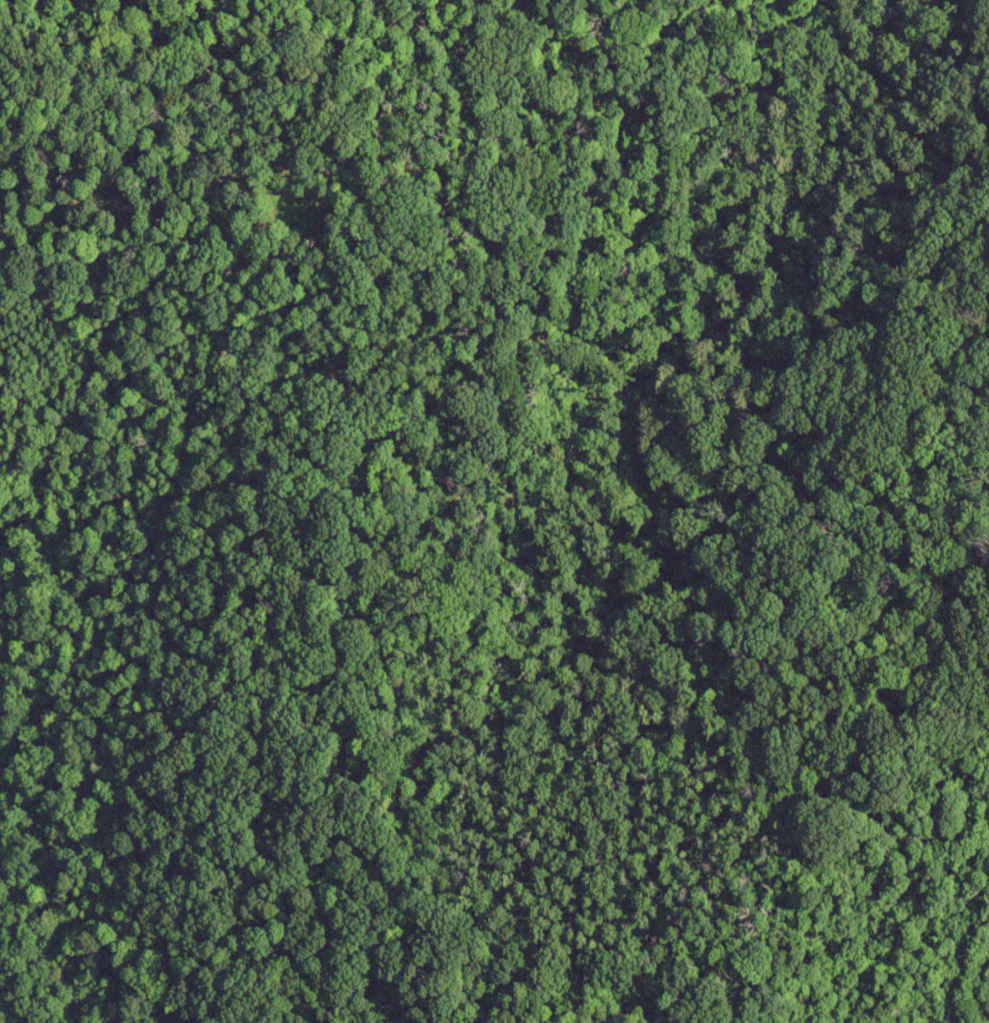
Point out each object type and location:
road: (274, 485)

